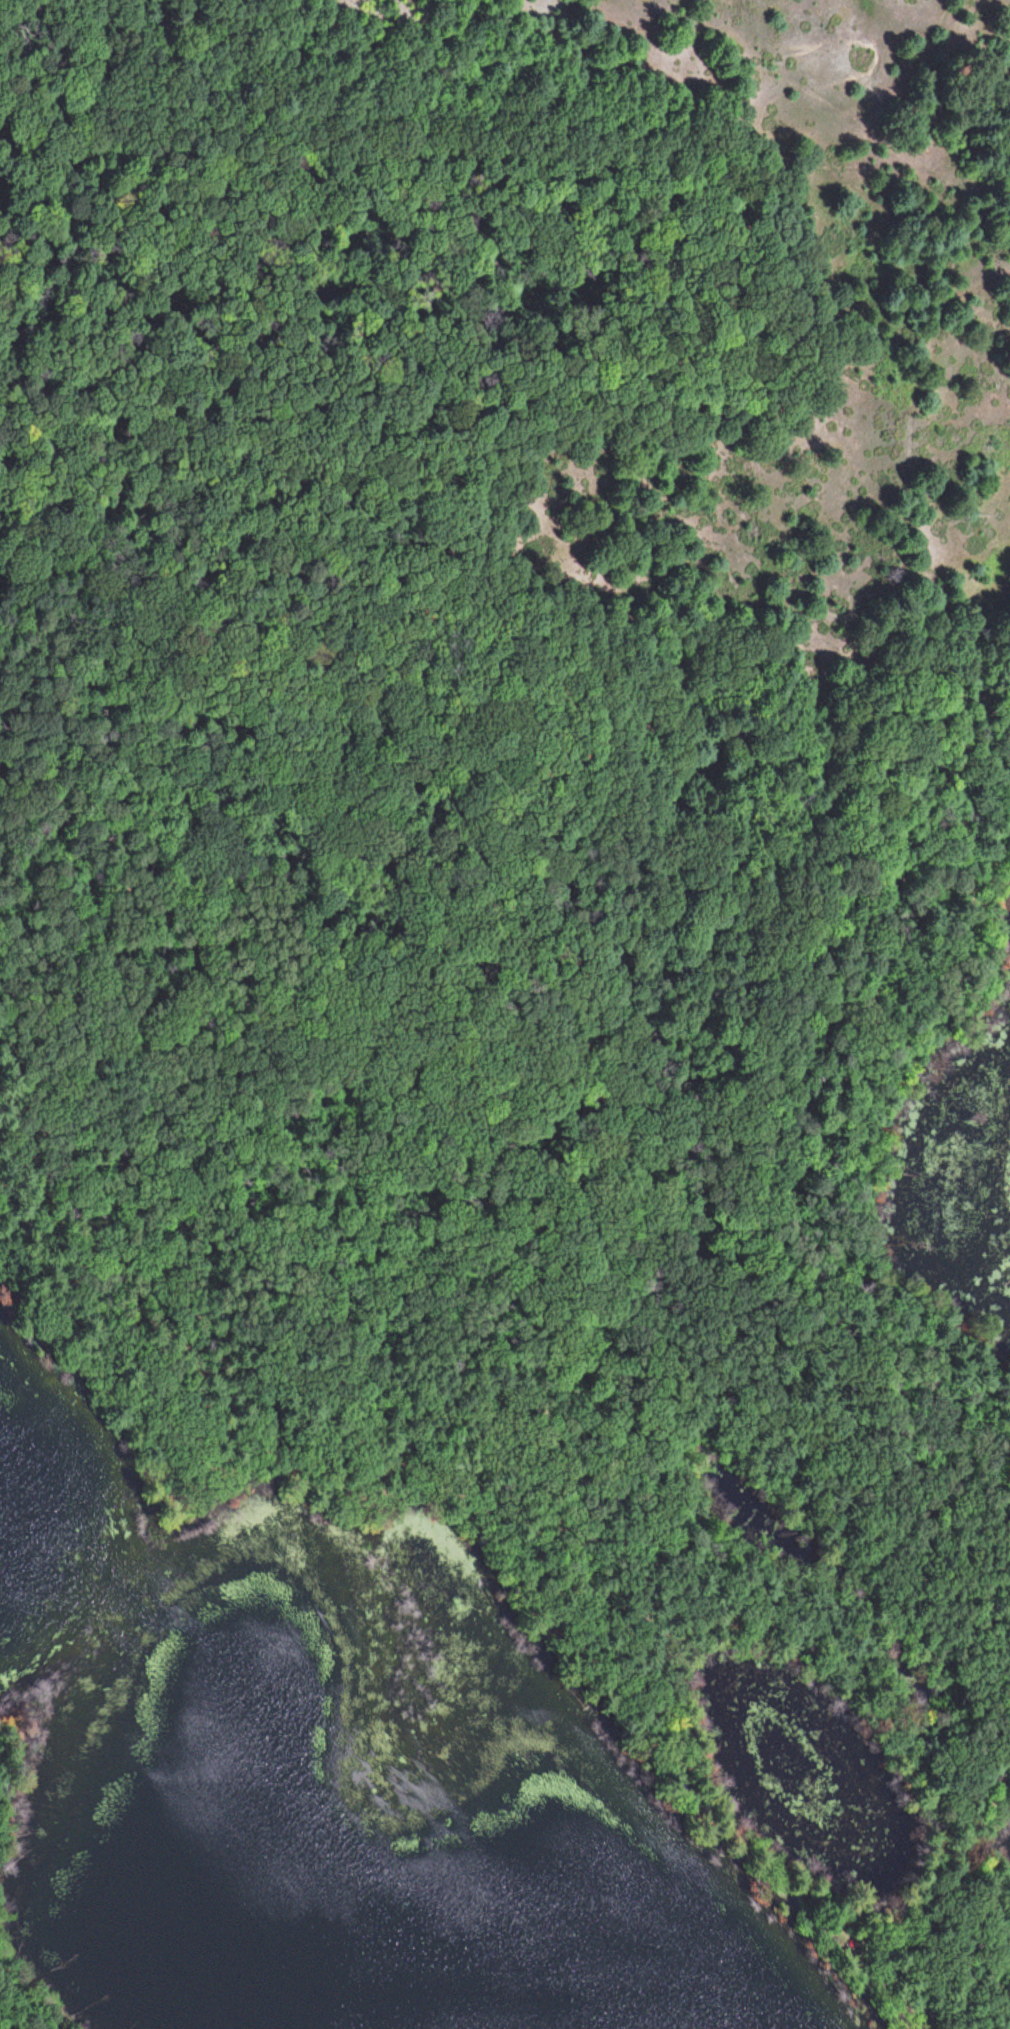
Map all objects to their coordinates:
road: (851, 1952)

